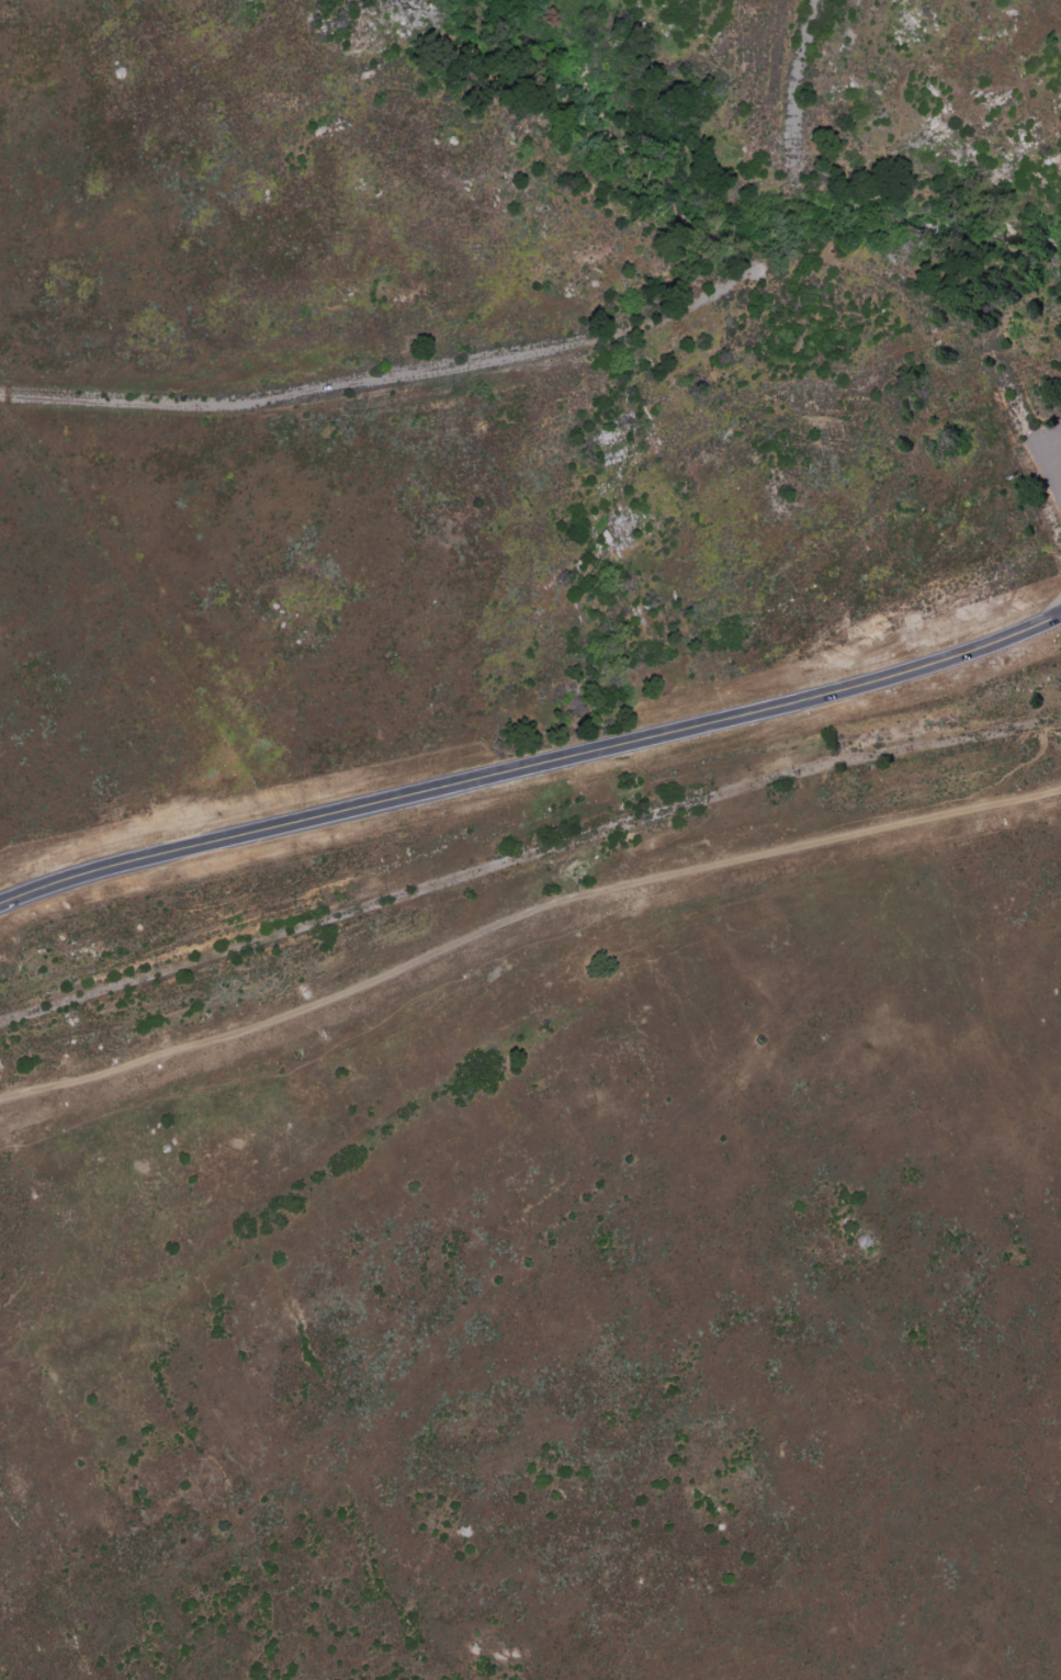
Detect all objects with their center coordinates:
road: (792, 132)
road: (584, 339)
road: (531, 767)
road: (521, 917)

